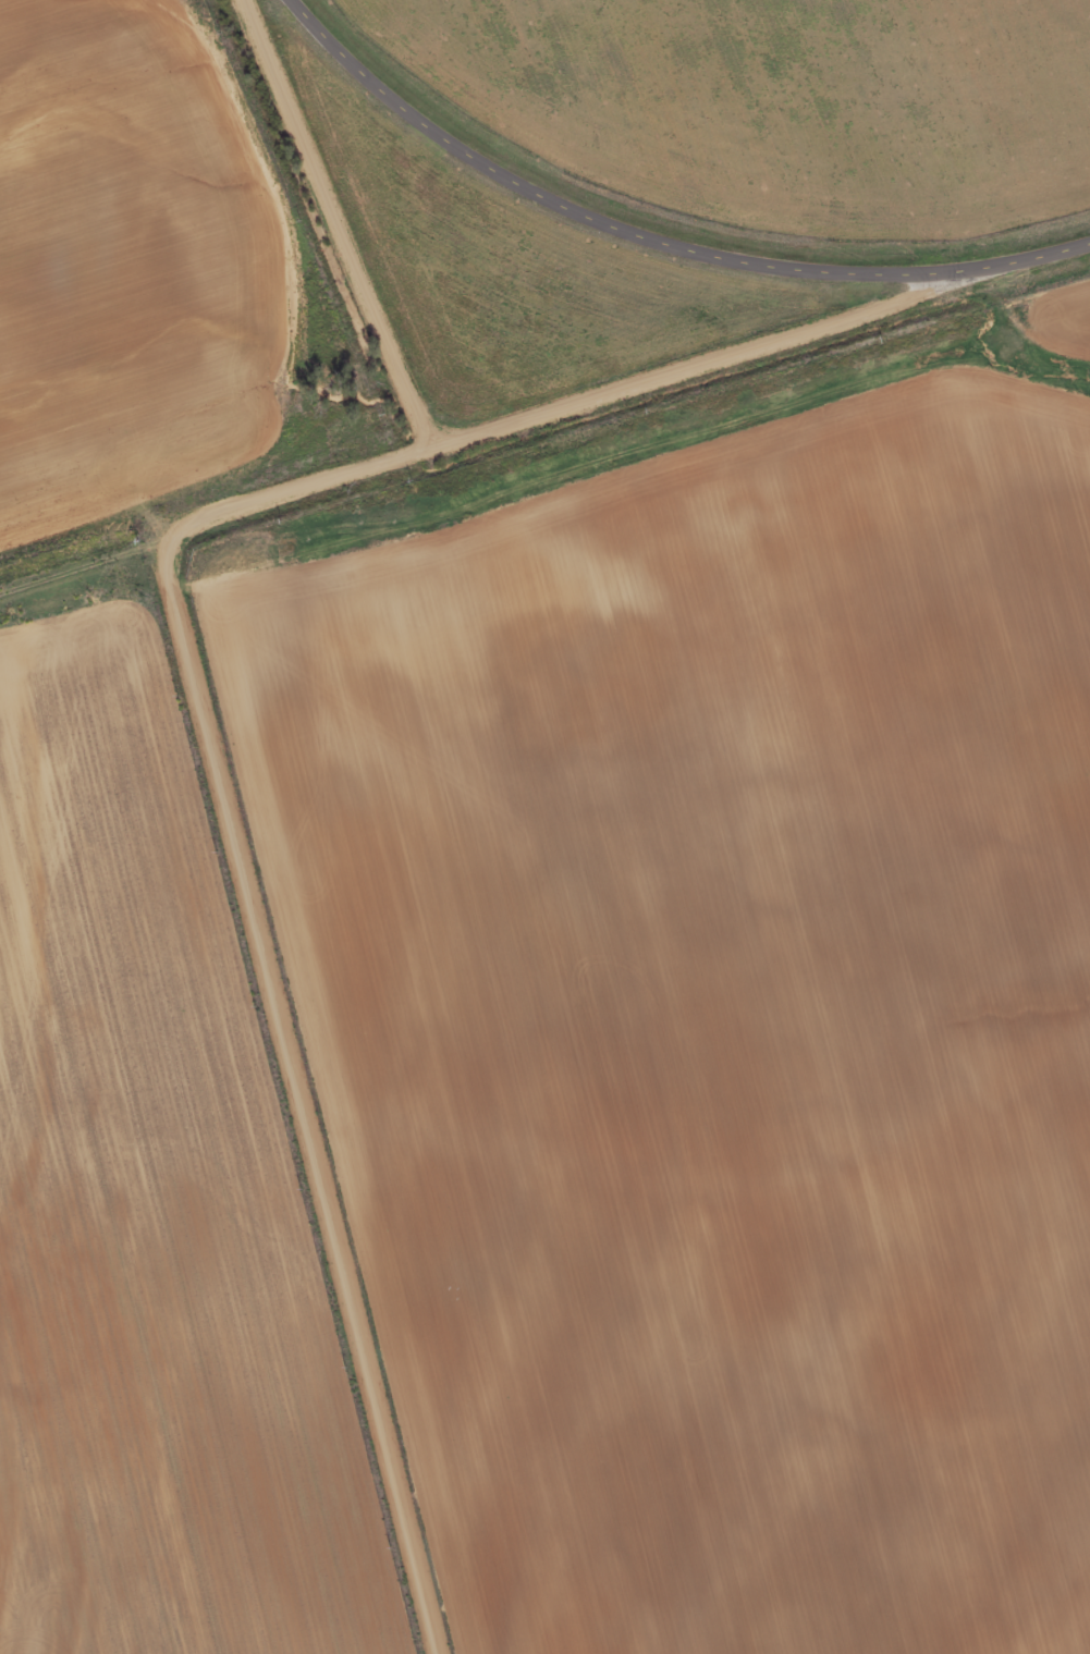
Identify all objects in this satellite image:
road: (652, 242)
road: (570, 326)
road: (225, 393)
road: (85, 579)
road: (207, 732)

